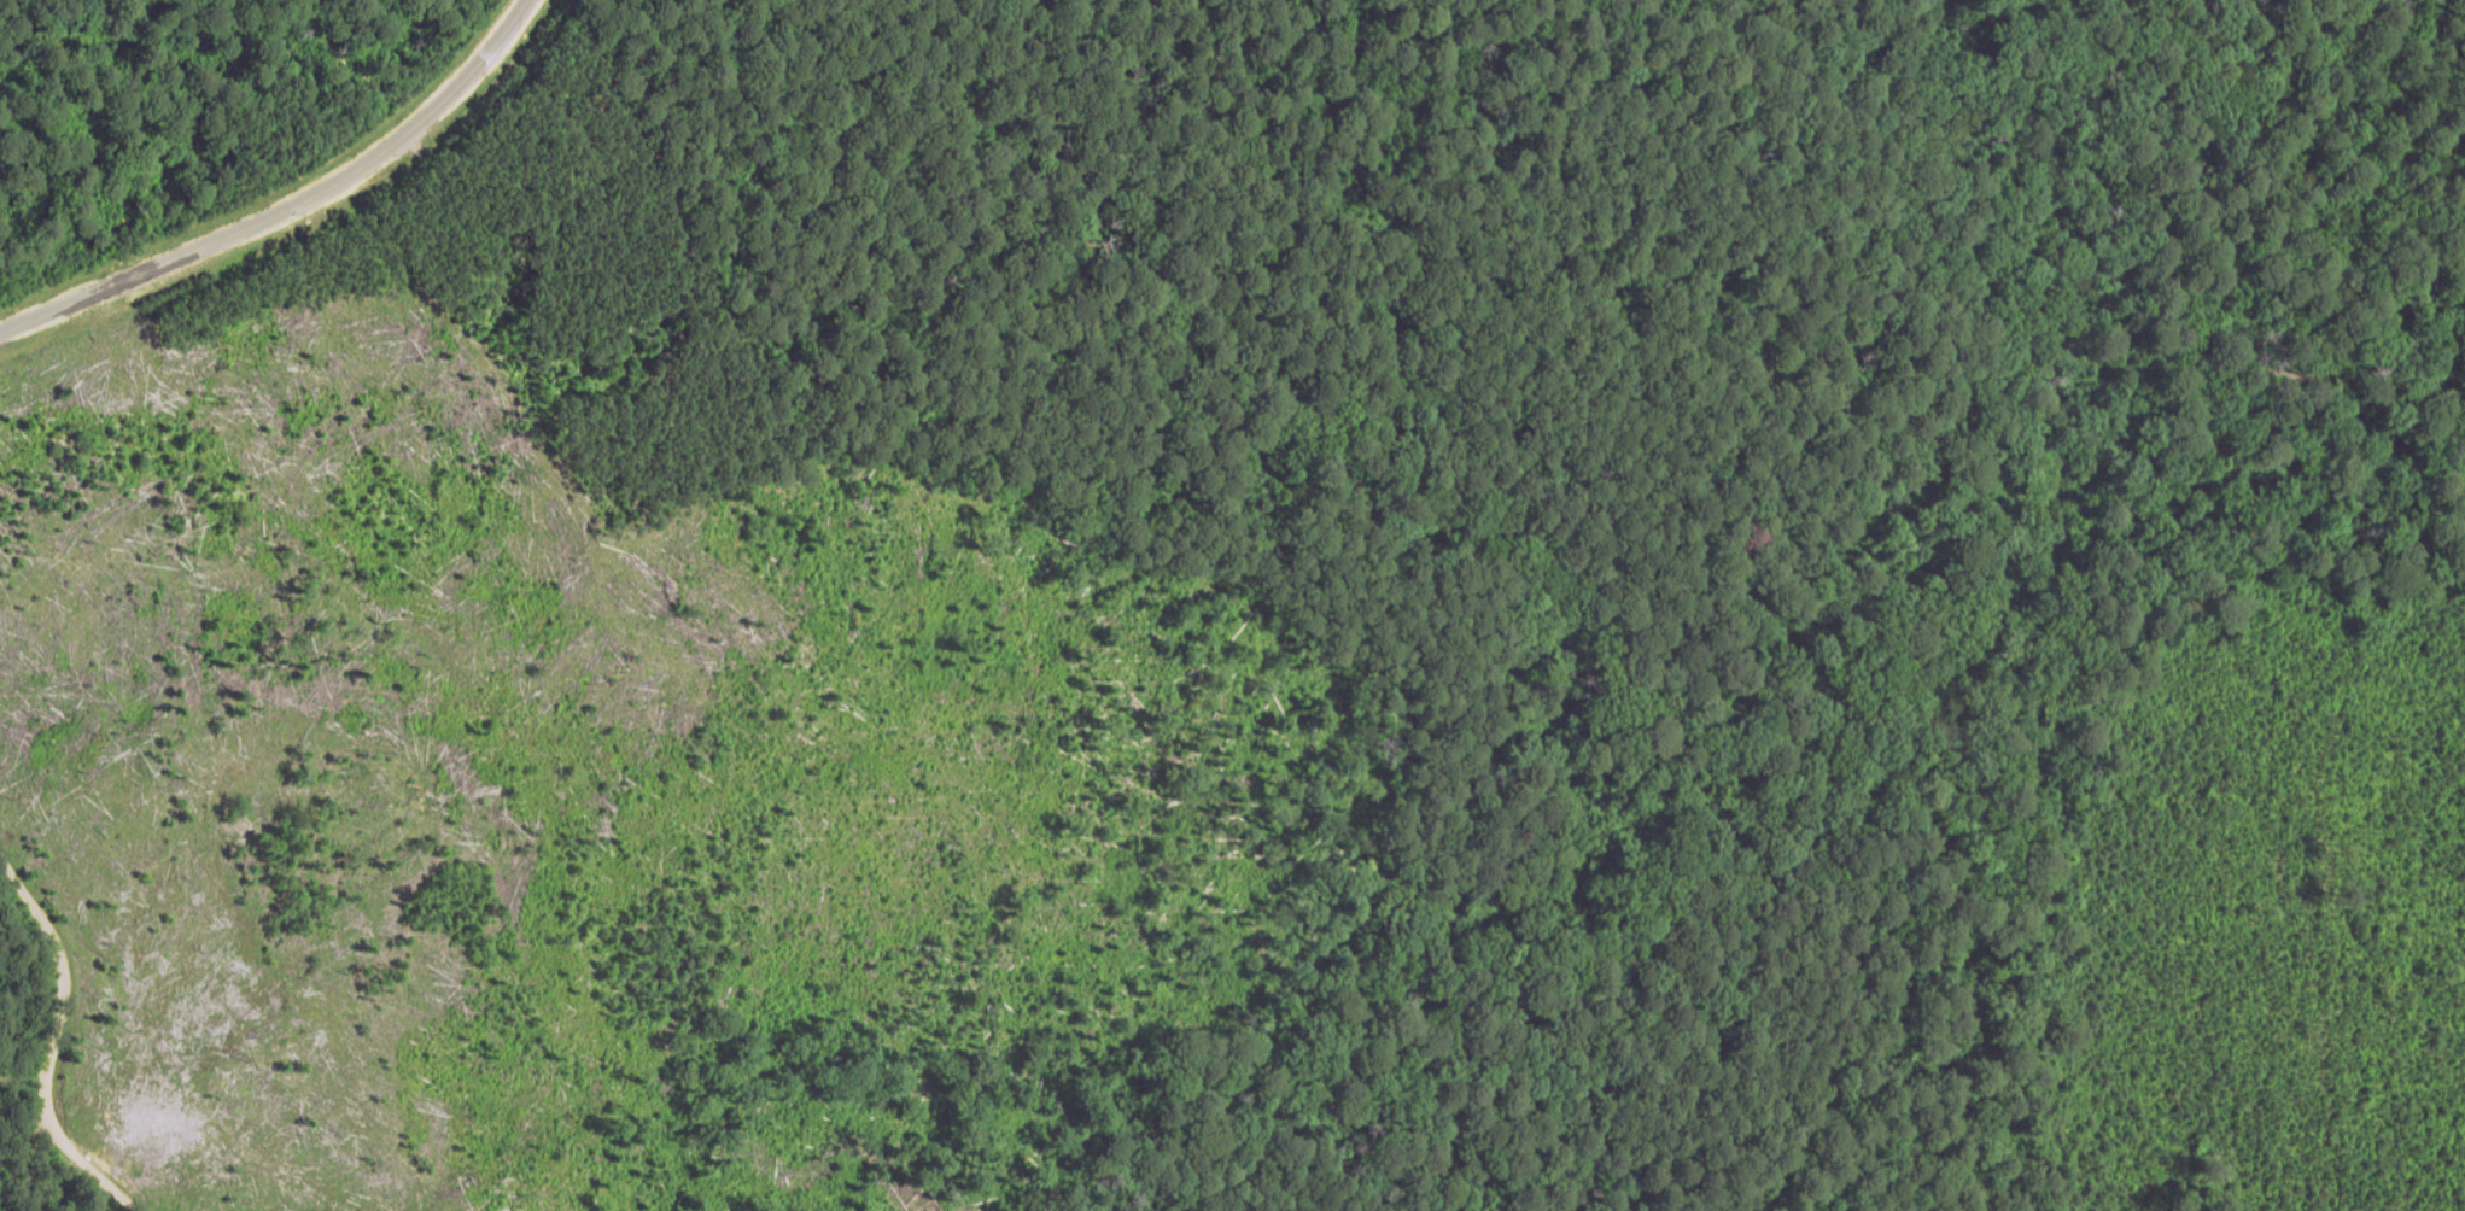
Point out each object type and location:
road: (292, 204)

